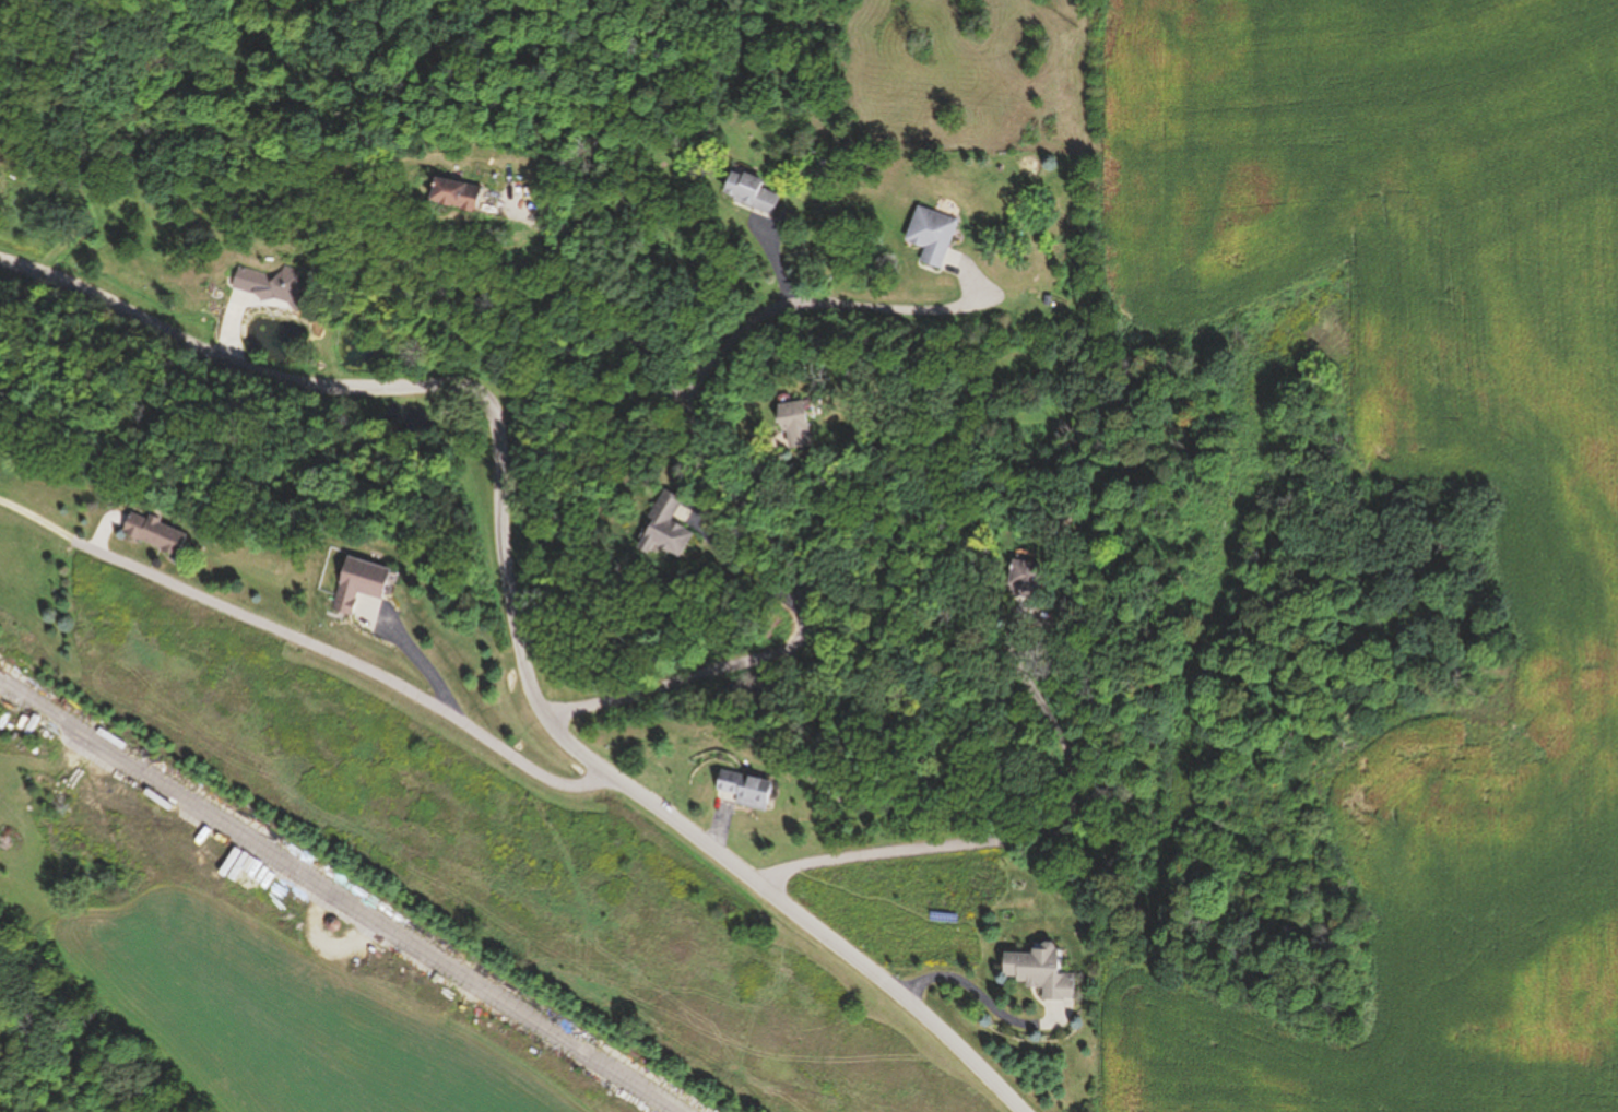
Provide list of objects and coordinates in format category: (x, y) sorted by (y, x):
building: (756, 191)
building: (468, 194)
building: (938, 237)
road: (776, 262)
building: (275, 287)
road: (606, 299)
road: (235, 333)
building: (802, 422)
road: (758, 466)
road: (724, 474)
road: (106, 529)
building: (670, 529)
building: (161, 535)
road: (737, 571)
building: (1030, 580)
building: (365, 587)
road: (513, 613)
road: (310, 646)
road: (417, 662)
building: (752, 791)
road: (721, 824)
road: (1031, 839)
road: (340, 896)
building: (1044, 974)
road: (982, 999)

